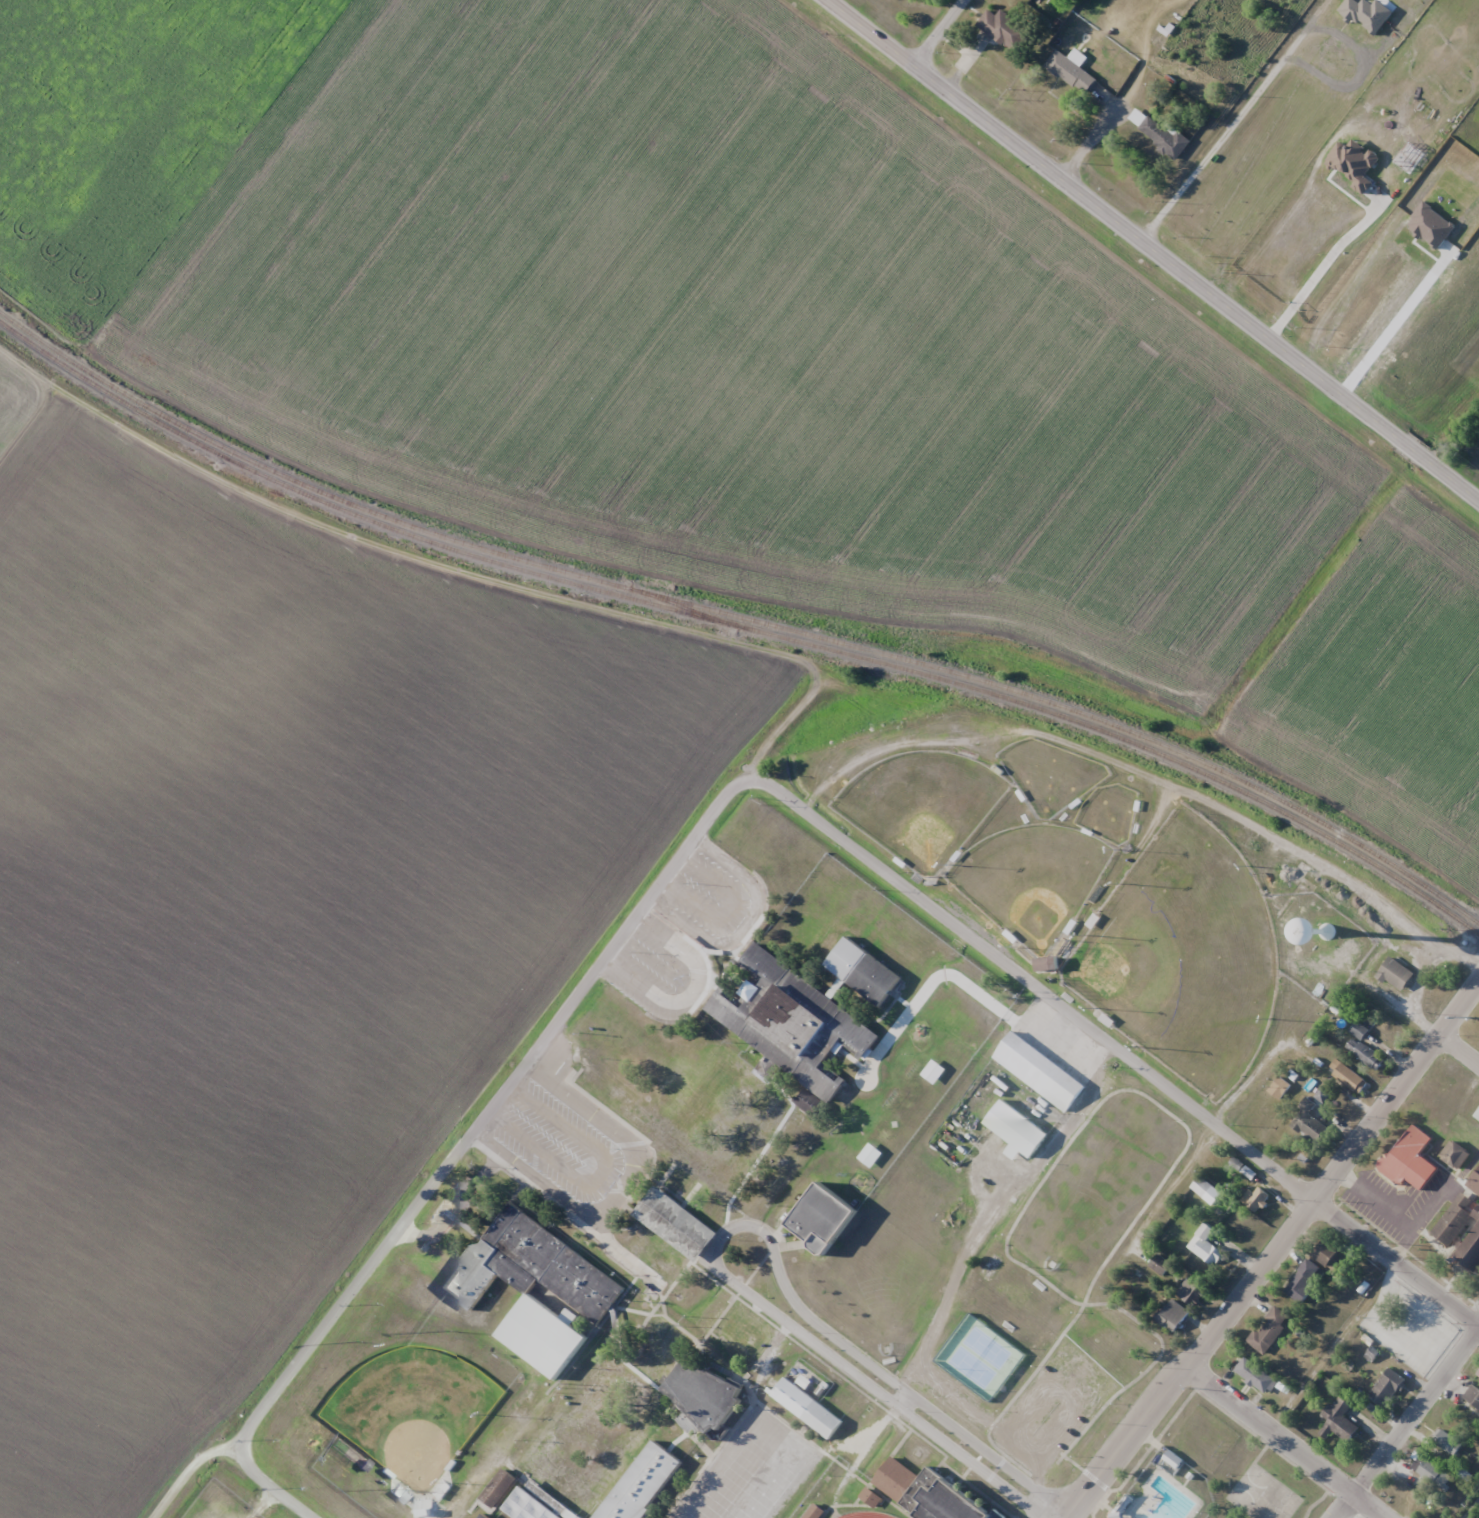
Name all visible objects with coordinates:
building: (1033, 0)
building: (1003, 28)
road: (935, 31)
building: (1170, 38)
building: (1073, 73)
building: (1168, 141)
road: (1064, 188)
crop: (1402, 202)
crop: (659, 316)
road: (1394, 429)
railway: (686, 608)
railway: (739, 617)
railway: (740, 627)
crop: (1385, 690)
crop: (274, 912)
park: (1183, 956)
building: (1044, 964)
building: (1396, 974)
building: (873, 979)
road: (1399, 1005)
building: (1359, 1030)
building: (1387, 1033)
road: (1116, 1043)
road: (1459, 1049)
building: (1364, 1053)
building: (936, 1073)
building: (1040, 1074)
building: (1345, 1075)
building: (756, 1076)
road: (489, 1108)
building: (634, 1111)
building: (1477, 1114)
building: (1307, 1122)
building: (1019, 1131)
building: (869, 1155)
building: (1406, 1155)
building: (1456, 1155)
building: (1474, 1184)
building: (1201, 1187)
building: (1258, 1199)
building: (822, 1218)
building: (1455, 1219)
road: (728, 1231)
building: (670, 1234)
building: (1205, 1245)
building: (1471, 1249)
road: (1276, 1254)
building: (1329, 1255)
building: (1159, 1265)
building: (1304, 1280)
building: (1194, 1293)
building: (710, 1312)
building: (1171, 1315)
building: (1268, 1329)
building: (744, 1333)
building: (545, 1339)
building: (980, 1359)
building: (1478, 1373)
building: (1255, 1375)
building: (1387, 1388)
building: (703, 1393)
building: (1472, 1396)
building: (532, 1398)
building: (807, 1408)
park: (413, 1413)
building: (608, 1418)
building: (1339, 1421)
road: (1407, 1430)
building: (1447, 1442)
road: (1286, 1443)
building: (1173, 1460)
road: (186, 1470)
building: (1432, 1473)
road: (272, 1486)
building: (498, 1488)
building: (928, 1493)
building: (529, 1506)
building: (814, 1512)
building: (484, 1516)

